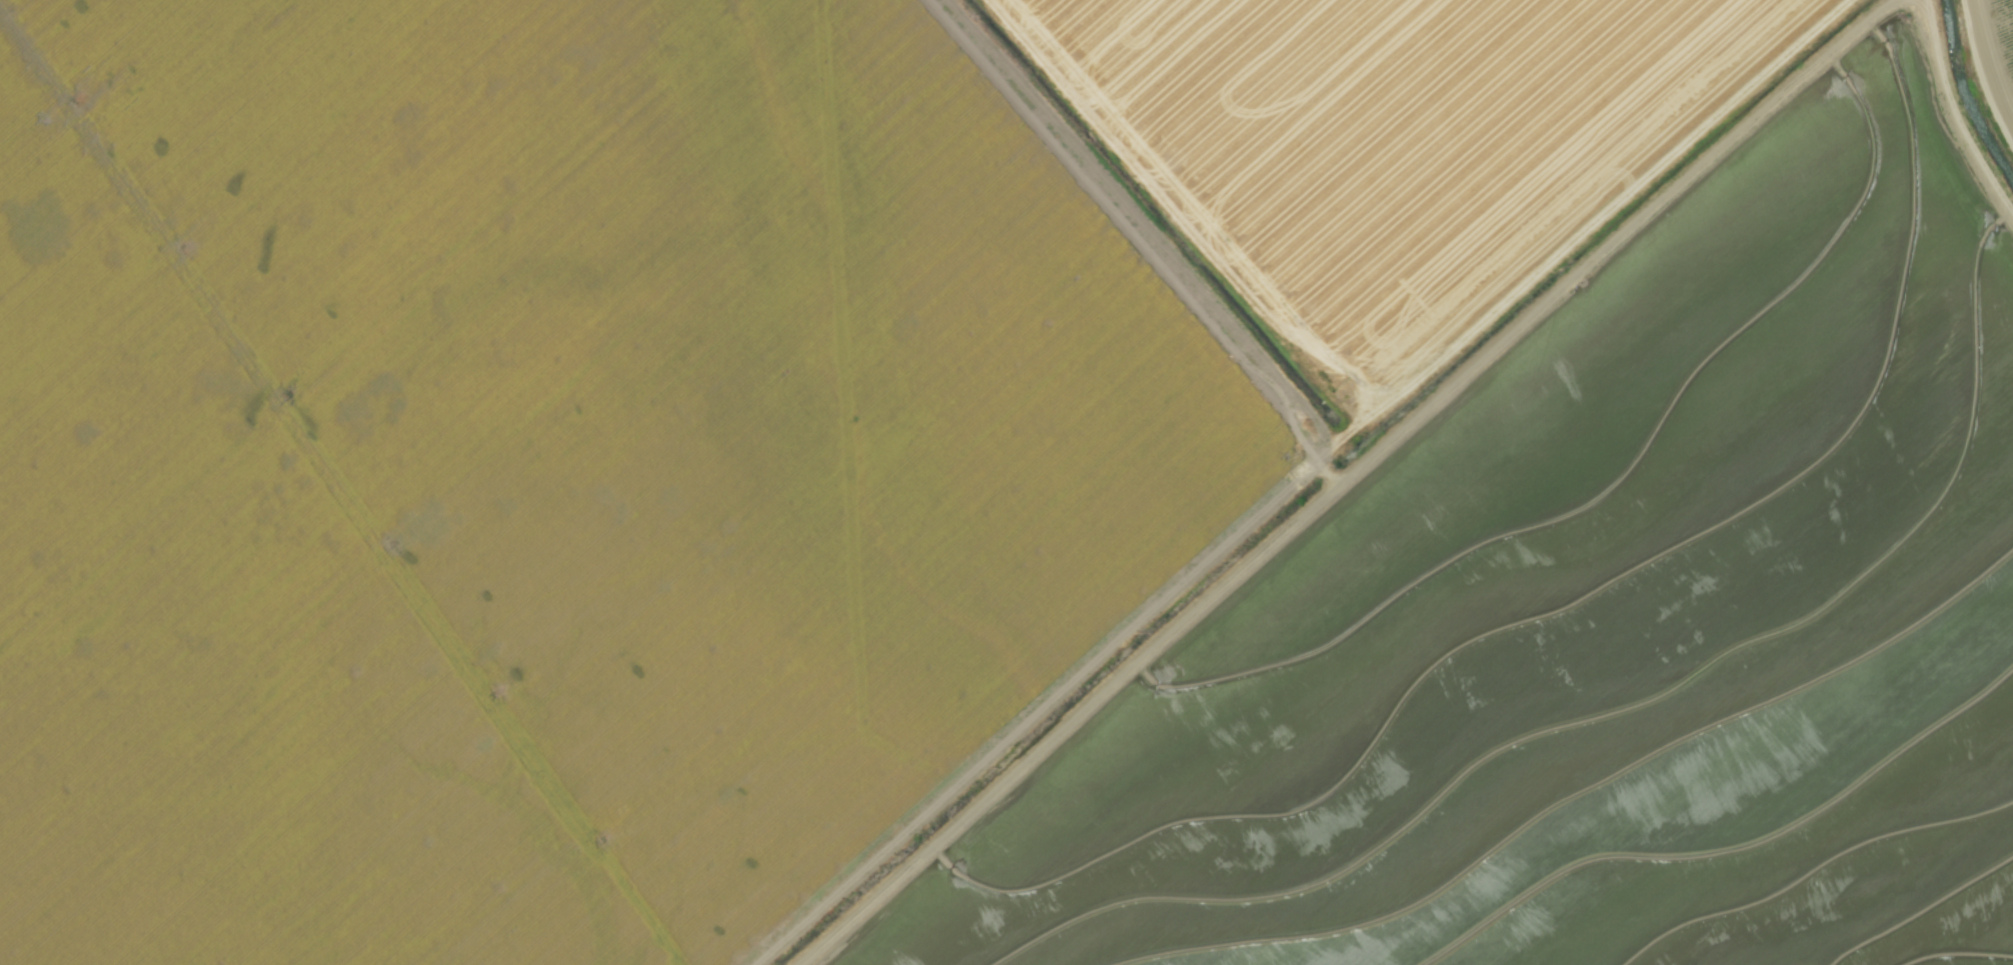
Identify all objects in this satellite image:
crop: (1006, 482)

